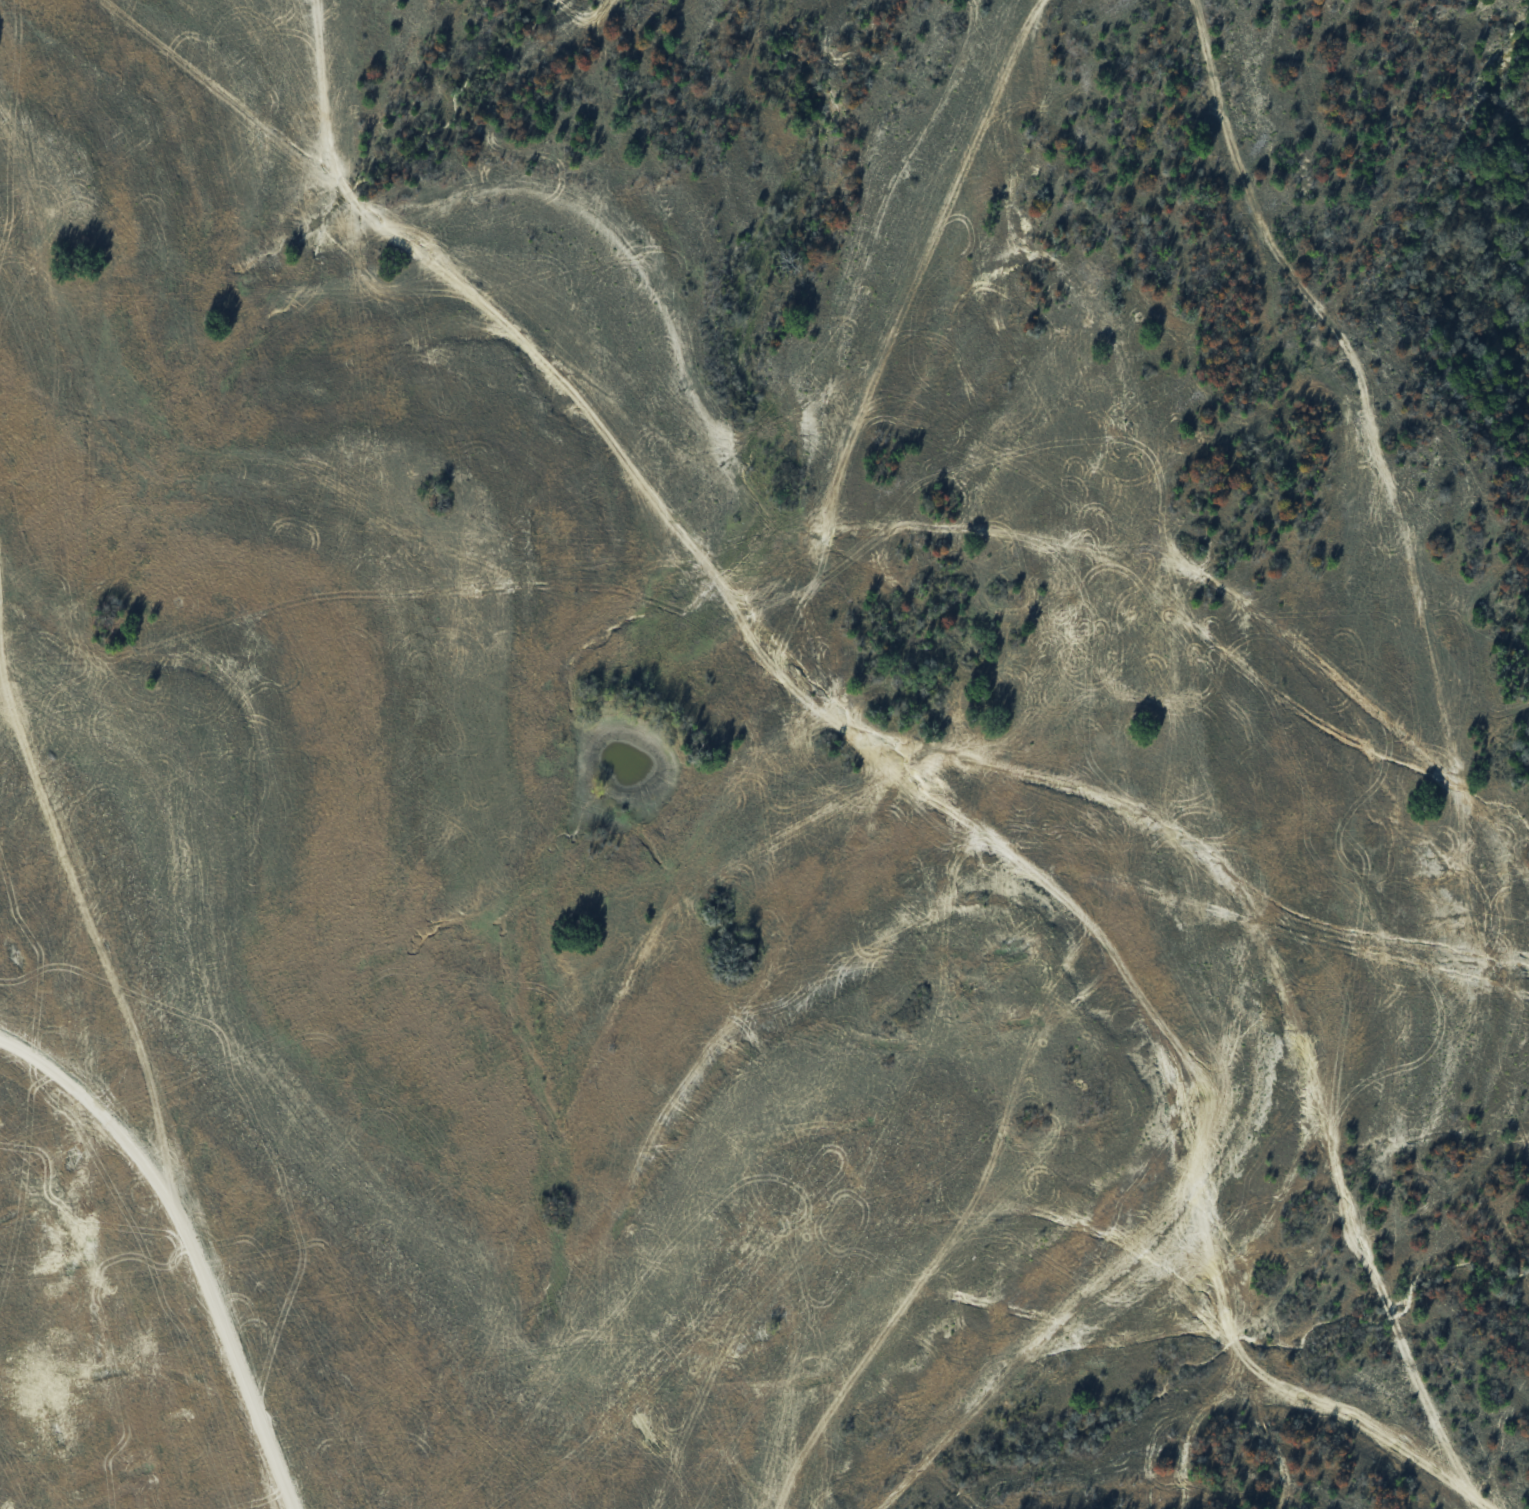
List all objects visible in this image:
road: (192, 1239)

